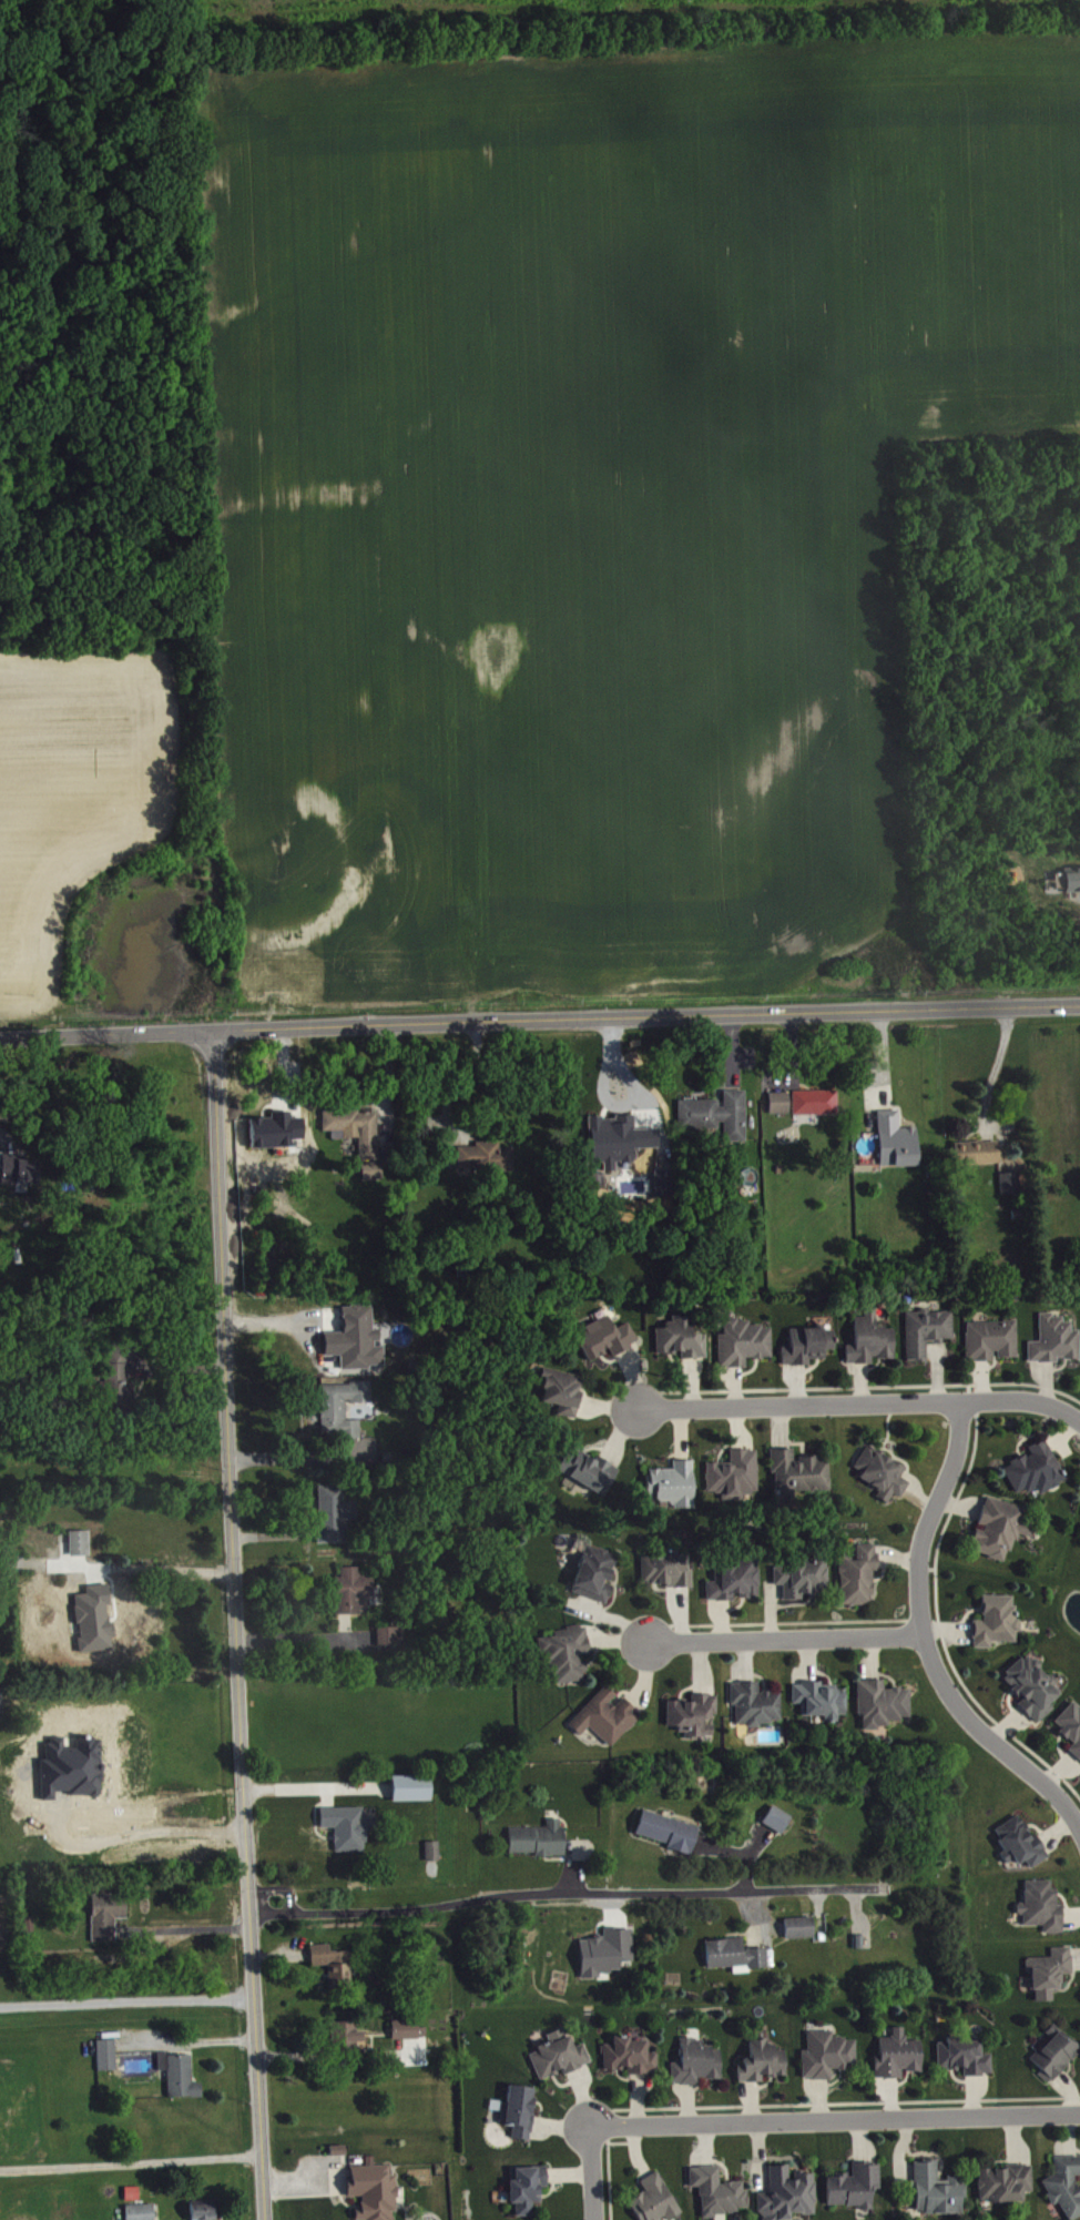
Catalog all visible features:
crop: (599, 485)
crop: (75, 794)
building: (1070, 876)
road: (539, 1020)
road: (786, 1048)
road: (732, 1050)
road: (882, 1057)
road: (992, 1073)
road: (385, 1085)
road: (455, 1085)
building: (776, 1099)
building: (812, 1099)
building: (713, 1111)
building: (350, 1124)
road: (972, 1129)
road: (7, 1137)
building: (894, 1137)
building: (619, 1142)
building: (972, 1149)
building: (483, 1154)
building: (370, 1168)
building: (20, 1170)
building: (1012, 1184)
building: (929, 1332)
building: (607, 1339)
building: (682, 1339)
building: (357, 1340)
building: (873, 1341)
building: (994, 1341)
building: (1056, 1341)
building: (745, 1344)
building: (809, 1347)
road: (182, 1366)
building: (116, 1378)
building: (564, 1392)
road: (862, 1403)
building: (340, 1405)
road: (286, 1458)
building: (1037, 1471)
building: (592, 1472)
building: (884, 1474)
building: (735, 1476)
building: (799, 1476)
building: (674, 1486)
building: (332, 1512)
building: (1001, 1530)
road: (269, 1535)
building: (77, 1541)
road: (128, 1567)
building: (668, 1572)
building: (597, 1575)
building: (860, 1577)
building: (803, 1579)
road: (84, 1581)
building: (736, 1581)
building: (350, 1589)
building: (998, 1623)
building: (79, 1624)
road: (235, 1624)
road: (344, 1624)
building: (389, 1632)
road: (785, 1635)
road: (305, 1638)
road: (925, 1641)
building: (569, 1654)
building: (1035, 1689)
building: (0, 1699)
building: (823, 1701)
building: (757, 1705)
building: (884, 1706)
building: (695, 1716)
building: (609, 1717)
building: (1071, 1726)
building: (408, 1785)
road: (316, 1787)
road: (326, 1796)
building: (774, 1815)
road: (315, 1821)
building: (344, 1824)
building: (665, 1828)
road: (145, 1832)
building: (537, 1836)
road: (756, 1838)
building: (1022, 1844)
road: (721, 1845)
building: (430, 1847)
road: (573, 1867)
road: (747, 1873)
road: (566, 1890)
building: (1045, 1908)
building: (105, 1913)
road: (751, 1916)
building: (796, 1925)
road: (185, 1928)
building: (732, 1953)
road: (276, 1954)
building: (608, 1954)
building: (330, 1961)
building: (1051, 1974)
road: (126, 2000)
building: (408, 2030)
building: (350, 2036)
building: (109, 2056)
building: (829, 2056)
building: (561, 2057)
building: (632, 2057)
building: (900, 2057)
building: (1057, 2057)
building: (966, 2058)
building: (699, 2064)
building: (765, 2064)
building: (181, 2076)
building: (521, 2111)
road: (834, 2118)
building: (336, 2147)
road: (130, 2162)
road: (591, 2172)
road: (304, 2182)
building: (1007, 2184)
building: (1067, 2187)
building: (857, 2188)
building: (529, 2189)
building: (371, 2190)
building: (939, 2191)
building: (721, 2192)
building: (789, 2196)
building: (656, 2200)
building: (200, 2208)
building: (137, 2210)

